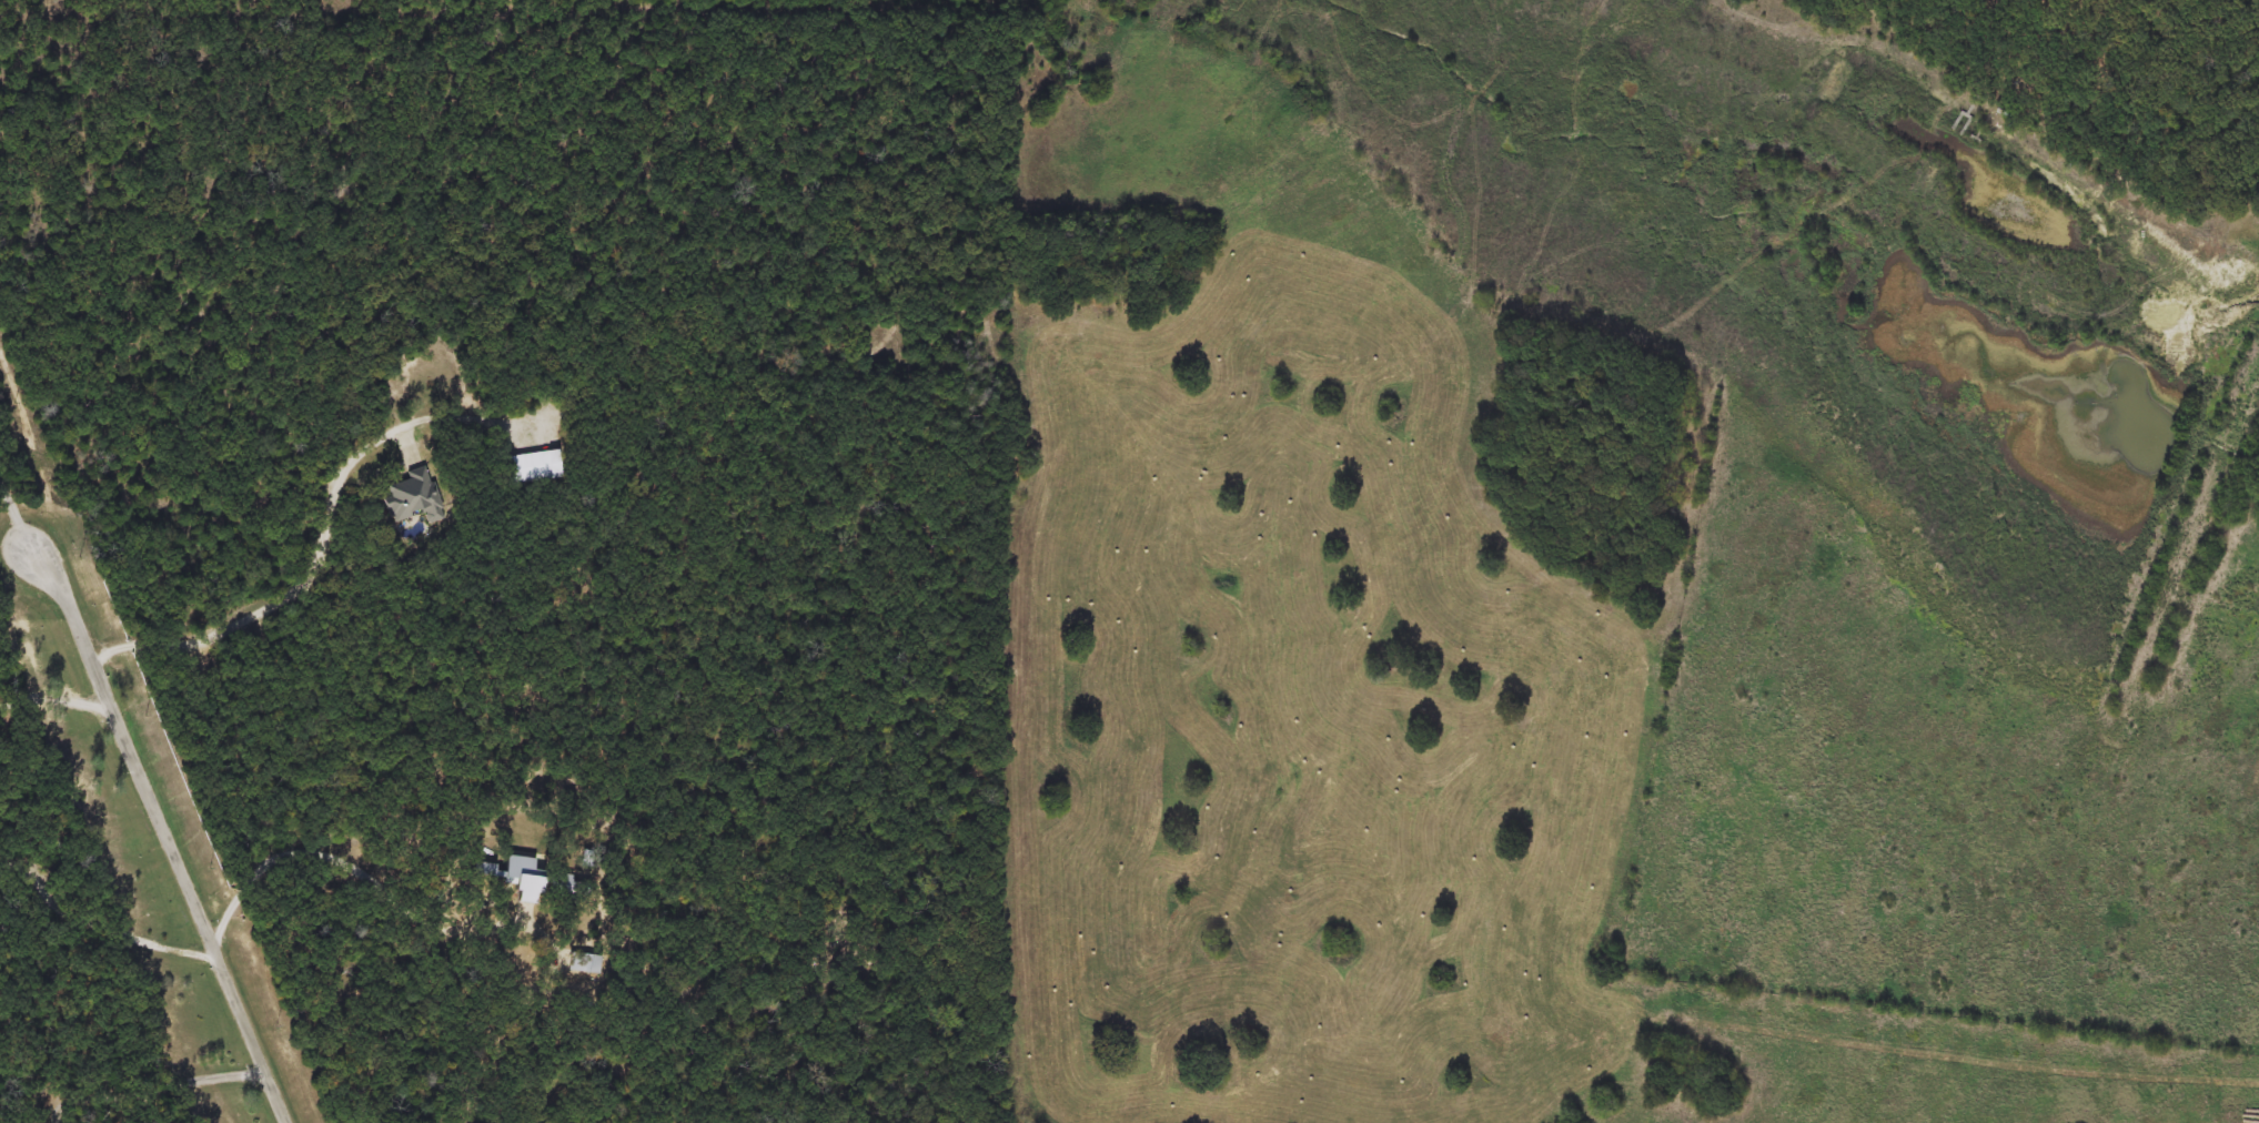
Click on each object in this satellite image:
building: (534, 467)
building: (412, 497)
road: (20, 516)
dam: (2185, 535)
road: (324, 543)
road: (57, 698)
road: (168, 838)
road: (356, 869)
building: (534, 881)
road: (100, 923)
building: (585, 962)
road: (159, 1086)

